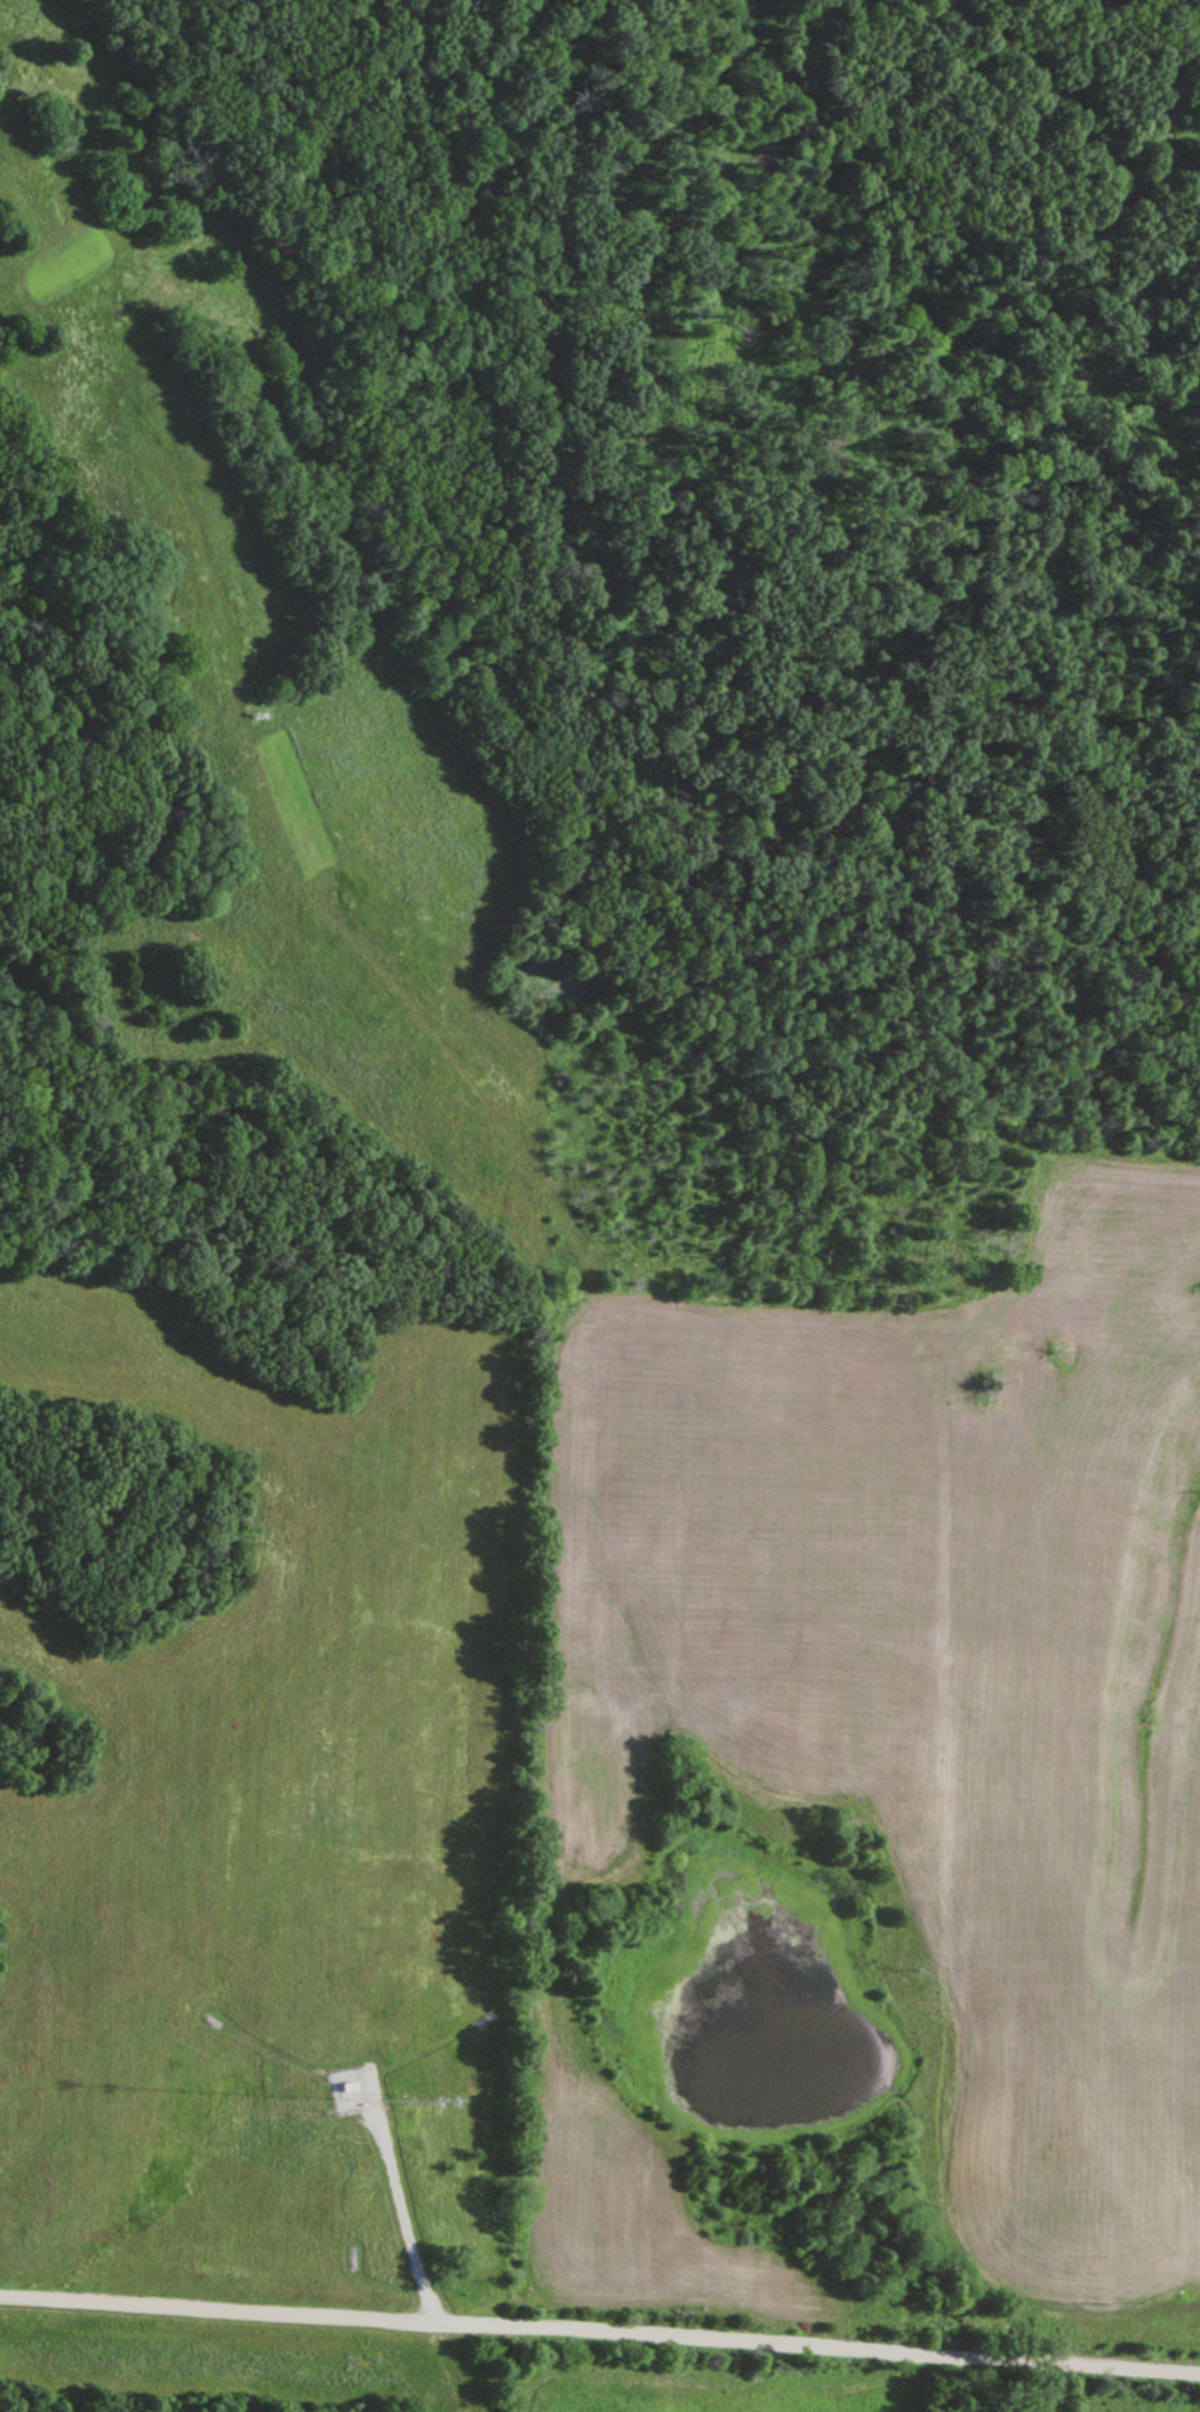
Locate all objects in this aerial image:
road: (974, 2262)
road: (600, 2325)
road: (498, 2365)

